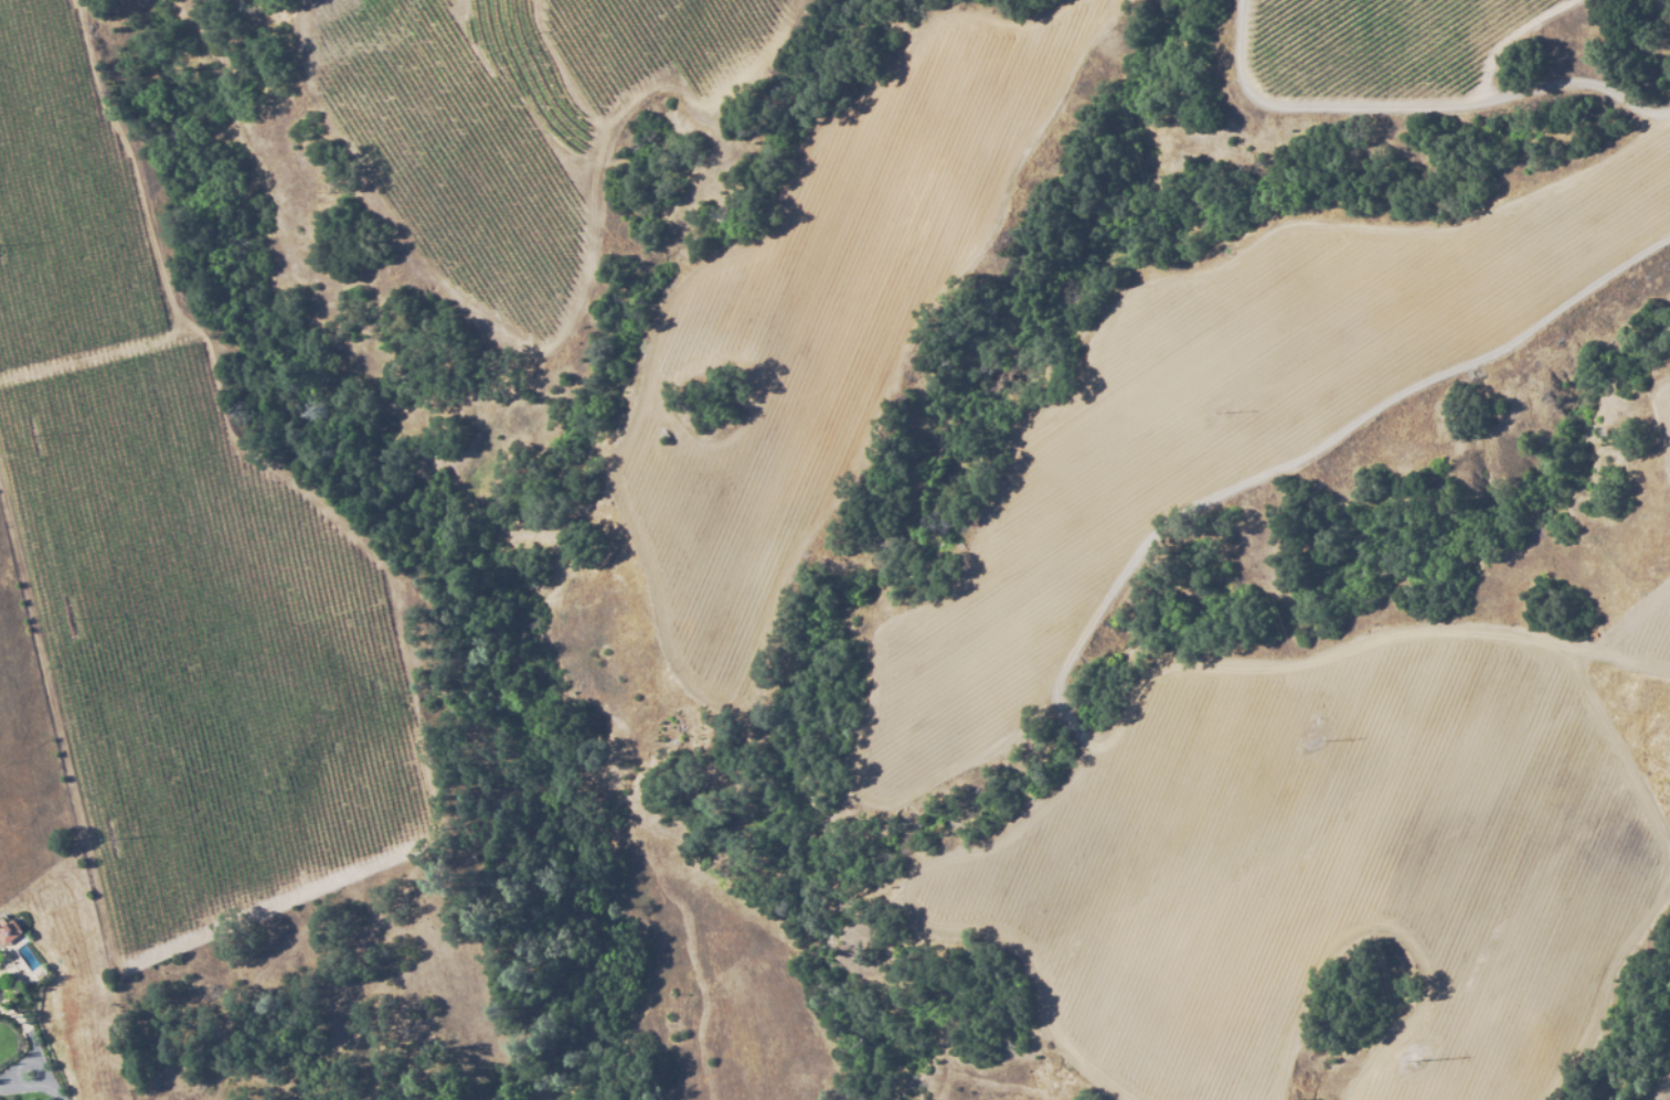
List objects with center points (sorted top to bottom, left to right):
building: (10, 931)

